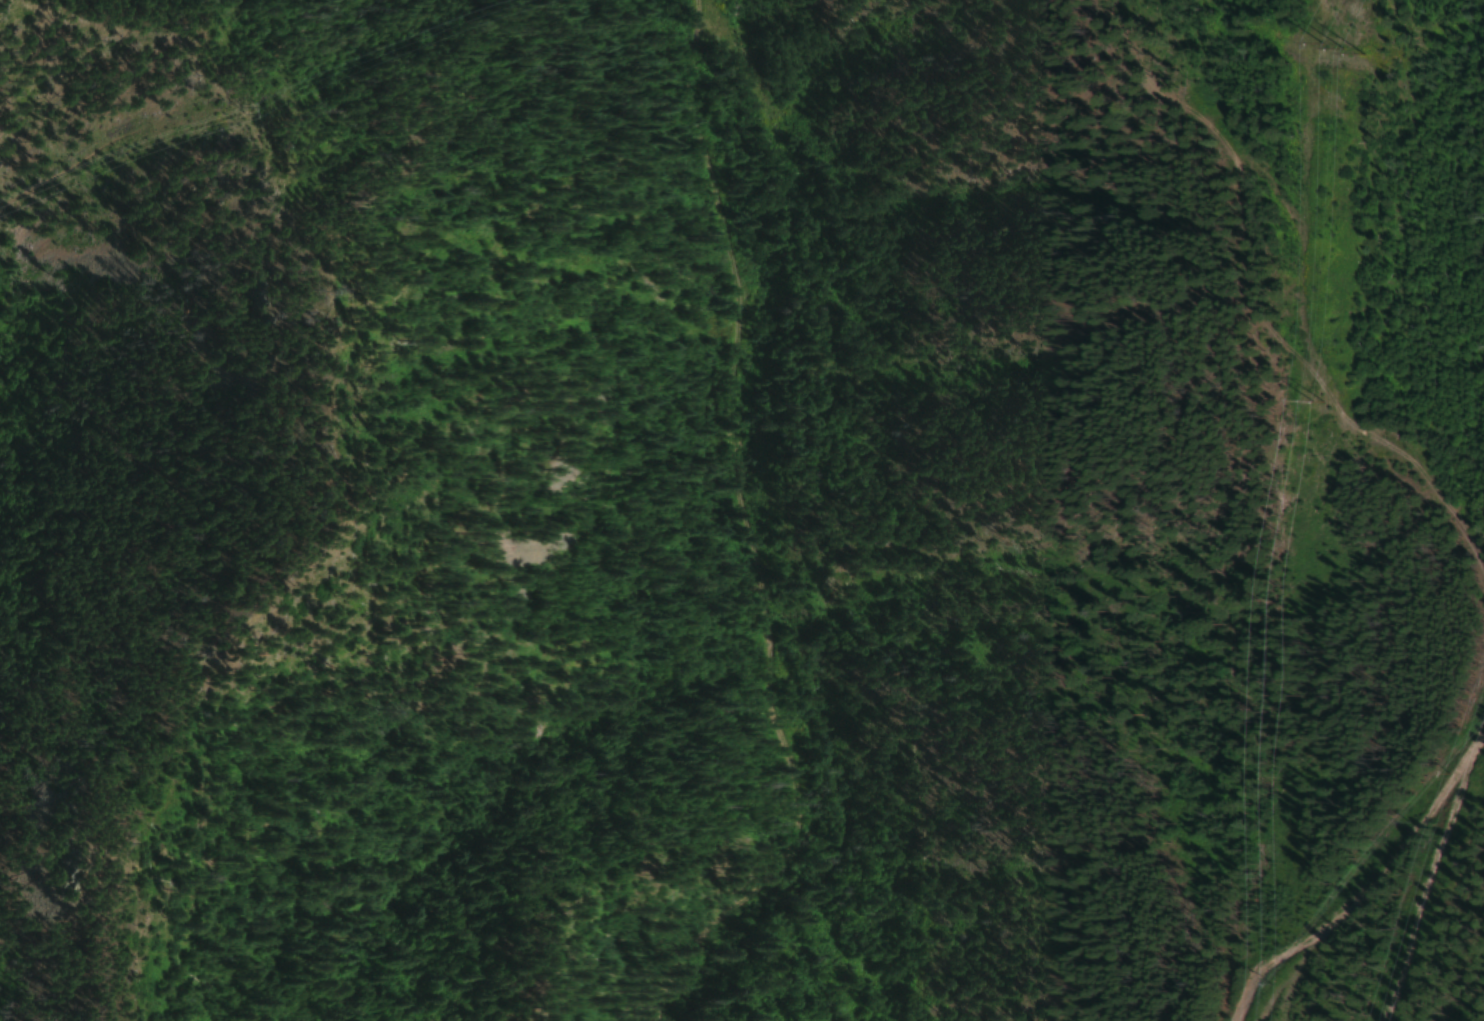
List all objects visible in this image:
power tower: (1349, 50)
power tower: (1323, 402)

